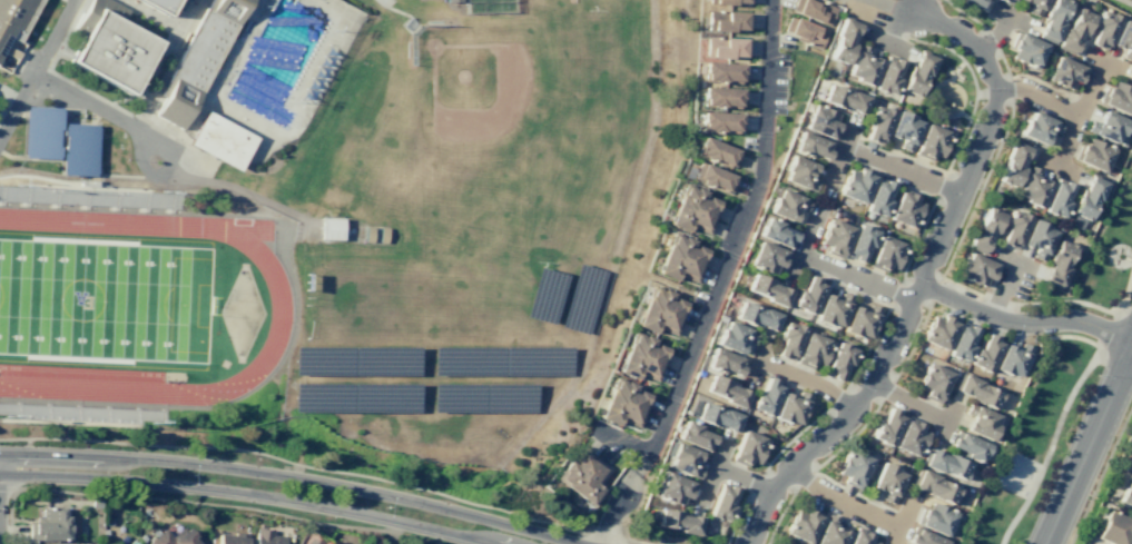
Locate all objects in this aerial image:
building: (188, 0)
building: (1005, 1)
road: (1126, 1)
building: (727, 2)
building: (972, 2)
building: (165, 4)
road: (902, 4)
building: (1033, 7)
building: (813, 10)
road: (1007, 17)
building: (83, 18)
building: (1052, 20)
building: (725, 21)
road: (893, 26)
building: (13, 29)
building: (1073, 30)
building: (1102, 30)
building: (804, 32)
road: (995, 36)
building: (1123, 39)
building: (844, 40)
road: (885, 42)
building: (724, 47)
building: (1025, 49)
building: (114, 51)
building: (198, 59)
road: (1103, 60)
building: (863, 66)
road: (36, 69)
building: (721, 72)
building: (917, 72)
building: (1063, 72)
building: (887, 75)
road: (952, 75)
building: (1131, 80)
park: (952, 90)
road: (6, 97)
building: (720, 97)
road: (1039, 97)
building: (844, 98)
building: (1116, 98)
road: (932, 109)
road: (100, 110)
road: (135, 111)
road: (1080, 113)
road: (964, 115)
building: (820, 120)
building: (719, 121)
building: (877, 123)
building: (1106, 126)
building: (1039, 128)
building: (904, 129)
building: (222, 140)
building: (60, 141)
building: (931, 141)
park: (520, 142)
building: (810, 145)
road: (166, 149)
building: (715, 152)
building: (1092, 155)
building: (1011, 165)
road: (1055, 165)
road: (900, 169)
building: (799, 172)
road: (149, 174)
building: (711, 178)
building: (856, 184)
building: (1032, 187)
road: (244, 191)
building: (878, 197)
building: (1086, 197)
building: (1057, 198)
building: (786, 205)
building: (905, 208)
building: (693, 209)
road: (966, 216)
building: (1074, 222)
building: (331, 228)
building: (1013, 228)
building: (983, 229)
building: (775, 233)
building: (835, 237)
building: (1037, 238)
building: (859, 243)
road: (805, 244)
road: (1116, 248)
building: (885, 254)
building: (767, 257)
building: (679, 258)
park: (1102, 258)
road: (1129, 258)
road: (928, 260)
road: (1017, 261)
building: (1056, 264)
building: (977, 269)
road: (718, 280)
road: (897, 281)
road: (937, 284)
road: (1001, 288)
building: (768, 289)
road: (1126, 291)
building: (807, 295)
park: (104, 300)
track: (280, 308)
building: (831, 309)
building: (659, 311)
building: (756, 316)
building: (859, 322)
road: (1023, 324)
building: (938, 332)
building: (734, 336)
building: (788, 339)
building: (962, 342)
building: (811, 350)
building: (984, 353)
building: (640, 357)
building: (1011, 359)
road: (755, 360)
building: (838, 360)
building: (724, 362)
road: (806, 379)
building: (933, 382)
building: (727, 390)
building: (976, 390)
building: (766, 397)
road: (908, 400)
building: (622, 404)
building: (790, 407)
building: (713, 415)
road: (946, 422)
building: (980, 422)
road: (862, 426)
building: (887, 426)
building: (695, 436)
building: (909, 436)
road: (621, 438)
park: (1033, 444)
road: (1050, 445)
building: (967, 446)
road: (1087, 446)
building: (747, 448)
building: (682, 459)
building: (944, 463)
building: (853, 467)
road: (710, 473)
road: (1100, 473)
building: (582, 475)
road: (285, 477)
road: (375, 478)
road: (741, 478)
building: (887, 481)
building: (936, 487)
building: (673, 488)
road: (246, 492)
building: (1126, 493)
building: (721, 502)
building: (95, 503)
road: (840, 503)
road: (226, 505)
road: (9, 516)
building: (935, 518)
building: (679, 521)
road: (902, 521)
building: (801, 524)
building: (49, 525)
building: (1114, 527)
building: (829, 532)
building: (860, 536)
building: (173, 537)
building: (267, 537)
building: (922, 537)
building: (230, 538)

